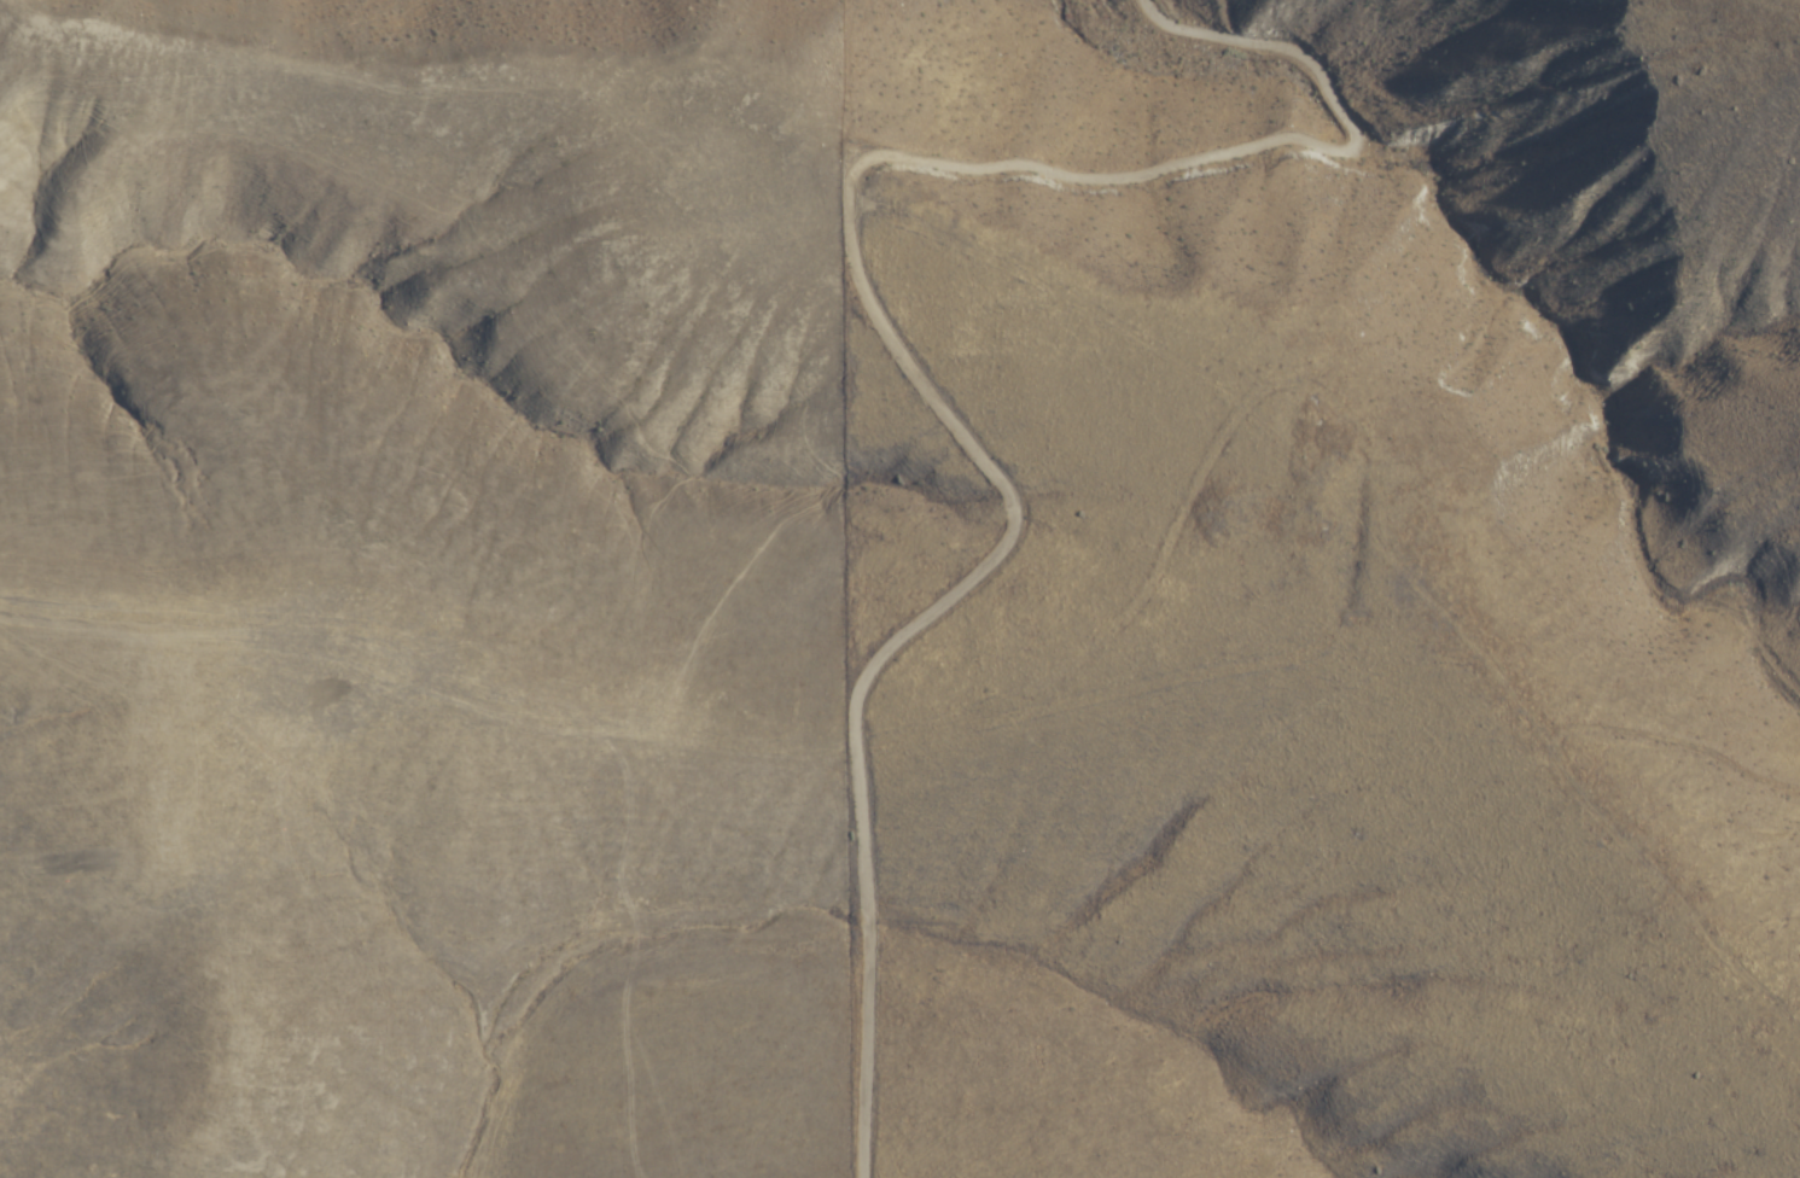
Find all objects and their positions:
road: (896, 350)
railway: (401, 861)
railway: (395, 879)
railway: (939, 1107)
railway: (914, 1114)

